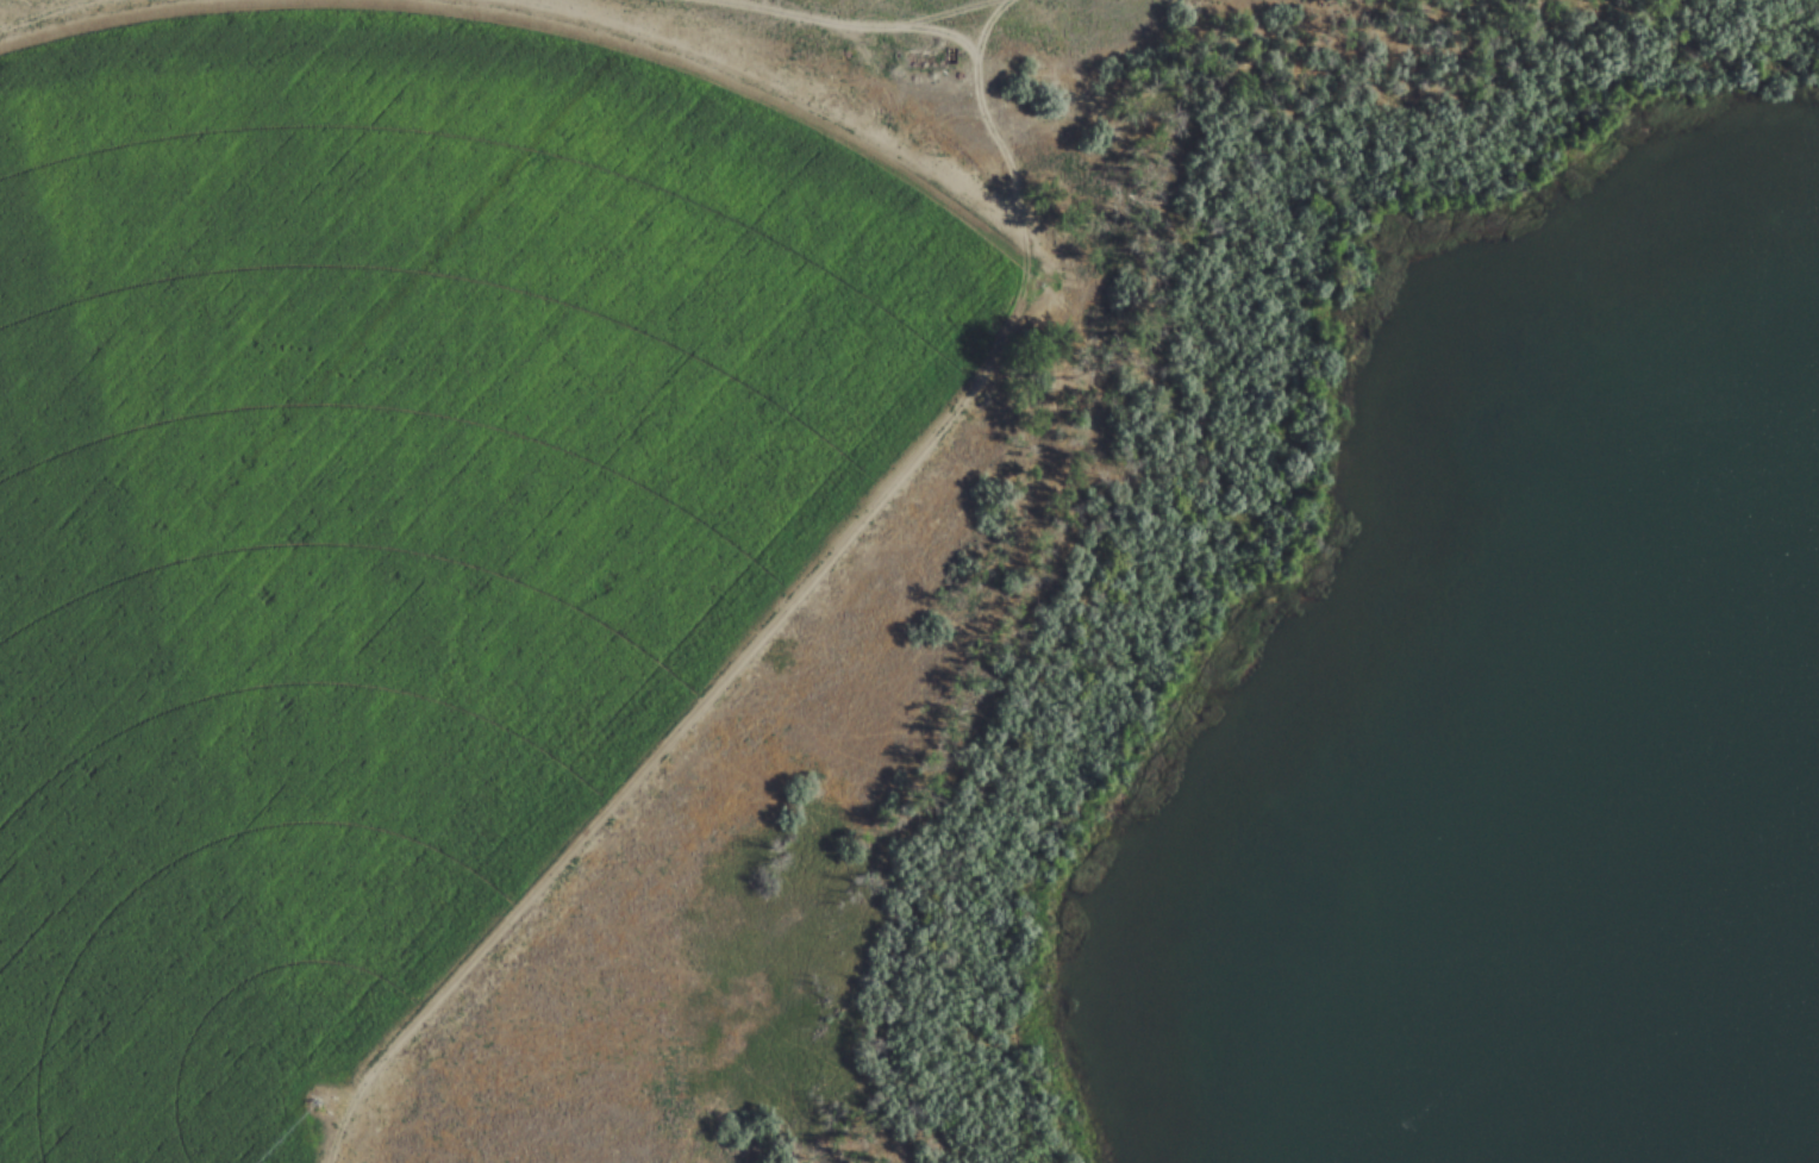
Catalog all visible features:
crop: (382, 509)

